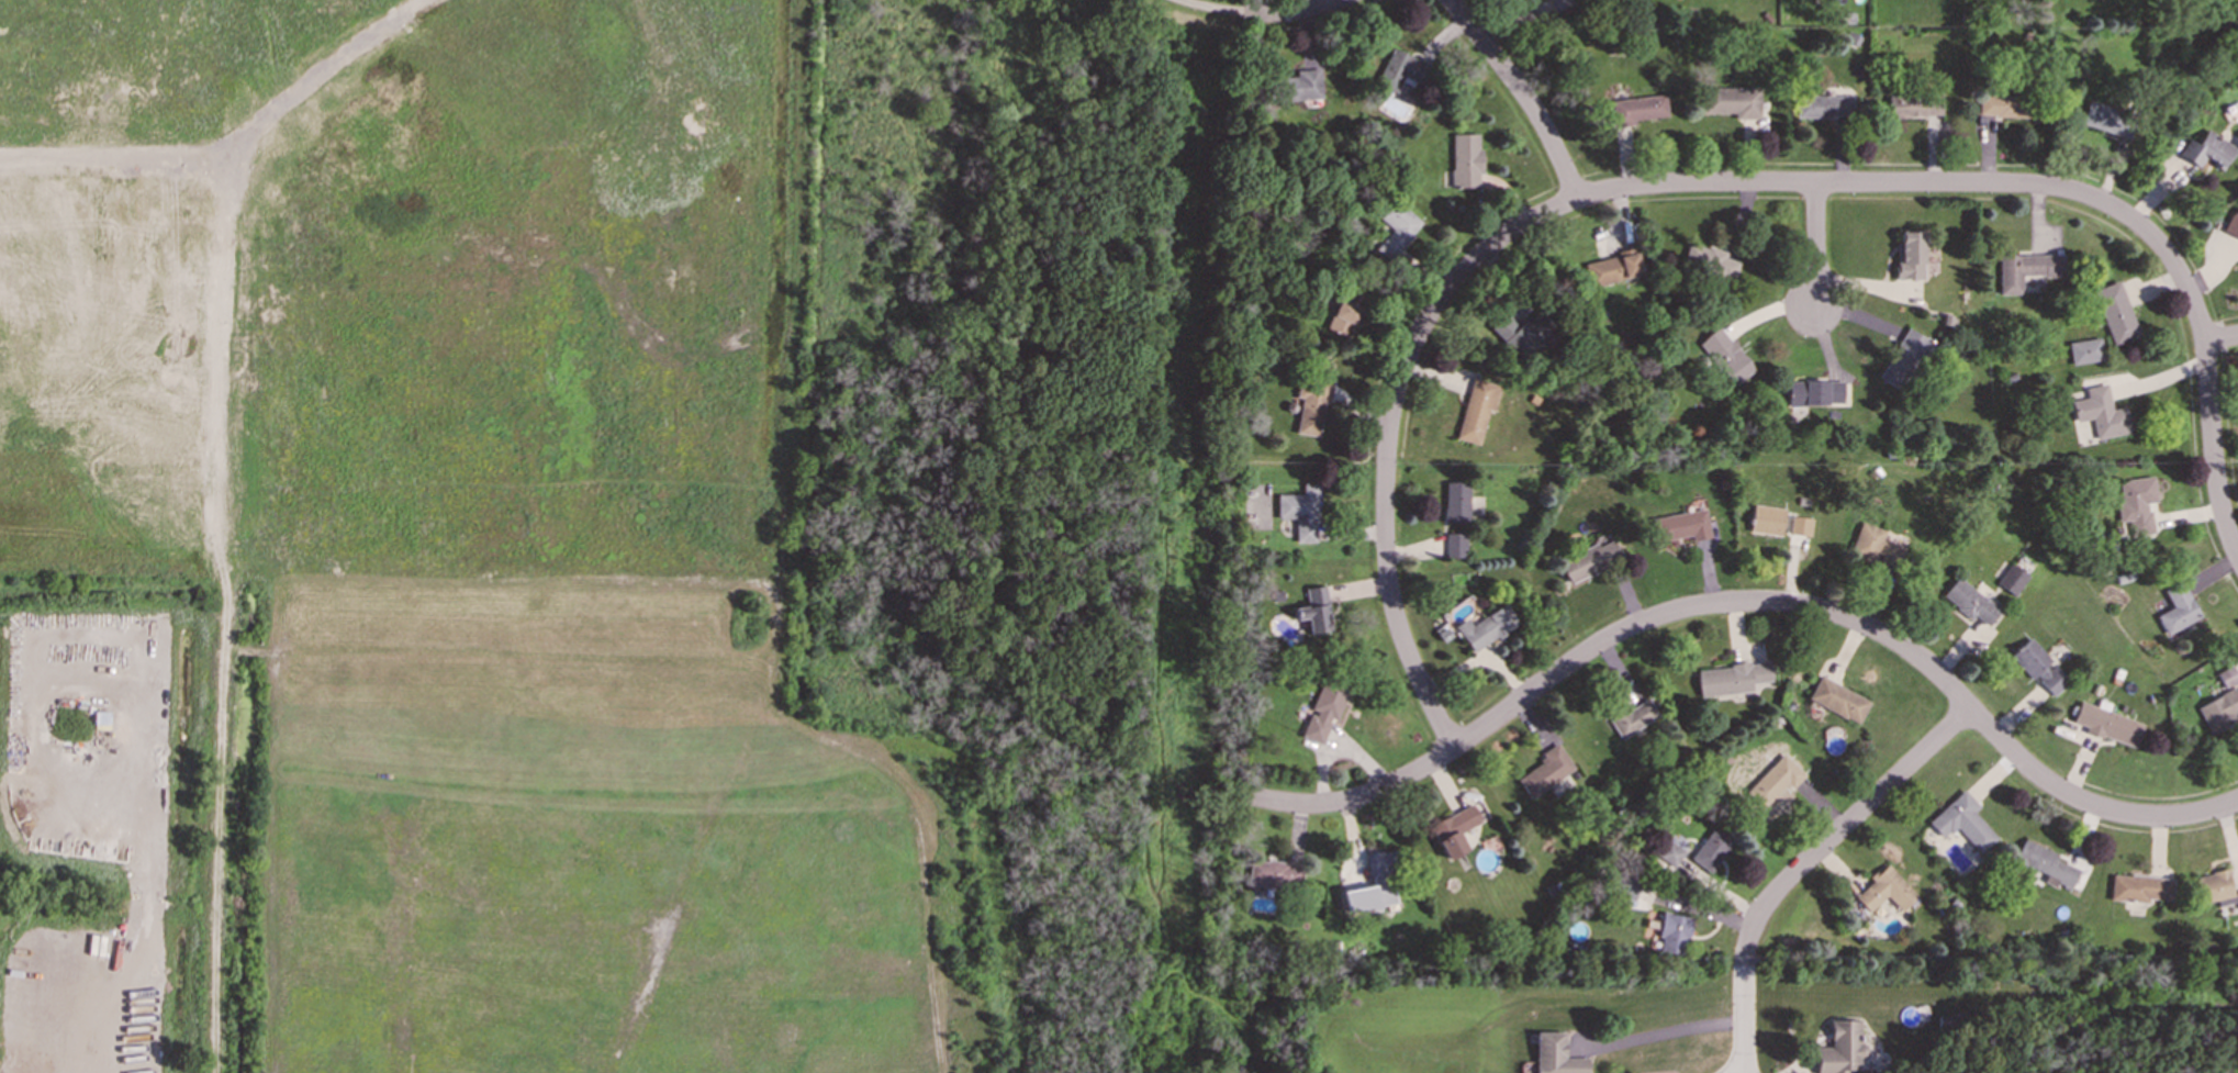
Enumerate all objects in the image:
building: (1558, 4)
road: (1212, 7)
road: (1289, 11)
building: (1399, 69)
building: (1301, 86)
road: (1522, 93)
building: (1914, 105)
building: (2003, 105)
building: (1737, 107)
building: (1823, 107)
building: (1638, 110)
building: (2107, 120)
building: (2207, 149)
building: (1465, 160)
road: (1928, 185)
building: (2233, 226)
building: (1396, 230)
road: (1816, 247)
building: (1911, 255)
building: (1709, 260)
building: (1612, 268)
building: (2026, 269)
building: (1345, 311)
building: (2115, 313)
building: (1521, 334)
road: (2220, 338)
building: (2085, 351)
building: (1726, 356)
building: (1905, 357)
building: (1814, 392)
building: (1311, 403)
building: (1477, 410)
building: (2101, 413)
road: (1387, 439)
road: (2213, 450)
building: (1456, 502)
building: (2136, 503)
building: (1300, 512)
building: (1767, 519)
building: (1681, 525)
building: (1800, 526)
building: (1455, 545)
building: (1875, 545)
building: (1589, 560)
building: (2014, 577)
building: (1970, 601)
road: (1750, 602)
building: (2178, 610)
building: (1314, 611)
building: (1486, 627)
building: (2038, 667)
building: (2227, 677)
building: (1731, 678)
building: (1838, 700)
building: (2219, 709)
building: (1323, 711)
building: (1630, 716)
building: (2106, 723)
building: (1545, 772)
building: (1775, 780)
building: (1962, 821)
building: (1454, 830)
building: (1711, 850)
building: (1672, 853)
building: (2045, 862)
road: (1803, 865)
building: (1274, 874)
building: (1374, 885)
building: (2139, 888)
building: (2213, 888)
building: (1884, 891)
building: (1672, 934)
road: (1664, 1032)
building: (1555, 1054)

